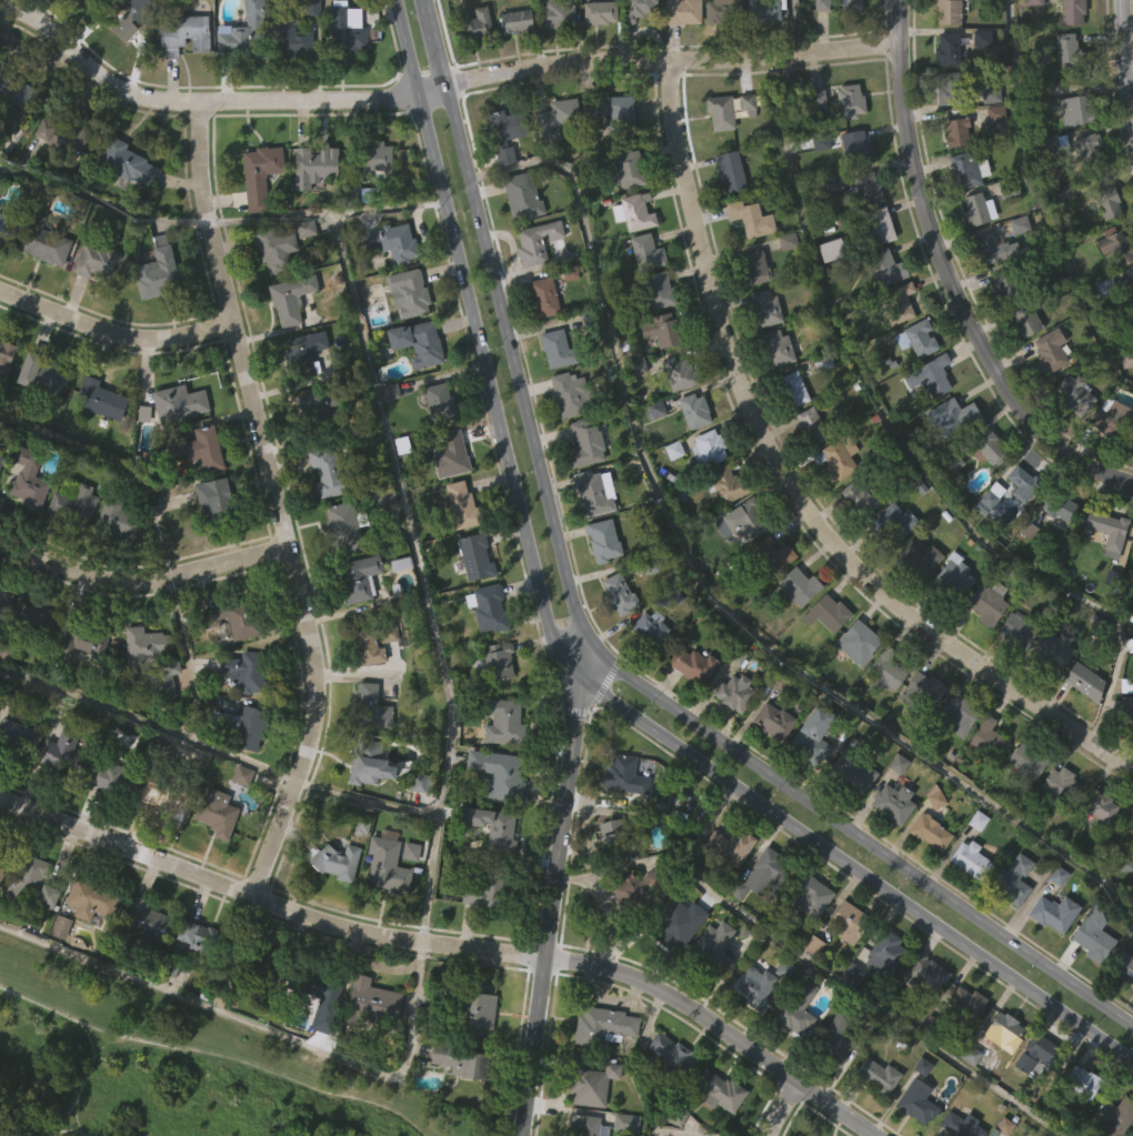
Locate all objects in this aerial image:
building: (851, 6)
building: (309, 9)
building: (638, 9)
building: (763, 9)
building: (17, 11)
building: (681, 11)
building: (721, 11)
building: (1072, 11)
building: (598, 12)
building: (946, 12)
building: (555, 14)
building: (133, 17)
building: (76, 18)
building: (513, 21)
building: (475, 23)
building: (347, 30)
building: (284, 31)
building: (182, 34)
building: (241, 36)
building: (845, 37)
road: (431, 40)
building: (1031, 42)
building: (310, 46)
road: (403, 47)
building: (820, 47)
building: (763, 48)
building: (638, 50)
building: (946, 50)
building: (1069, 52)
building: (133, 53)
building: (718, 54)
building: (680, 56)
road: (1123, 56)
building: (555, 57)
building: (598, 57)
road: (672, 60)
building: (513, 66)
building: (475, 68)
road: (1129, 77)
building: (342, 78)
building: (979, 82)
building: (234, 84)
building: (290, 86)
road: (430, 88)
building: (947, 88)
building: (14, 90)
building: (1064, 93)
building: (849, 99)
road: (192, 100)
building: (725, 109)
building: (1075, 110)
building: (608, 114)
building: (995, 117)
building: (555, 120)
building: (504, 132)
building: (955, 133)
building: (64, 134)
building: (16, 138)
building: (985, 139)
building: (1053, 142)
building: (814, 143)
building: (745, 147)
building: (854, 147)
building: (1089, 151)
building: (1075, 154)
building: (614, 155)
building: (718, 157)
building: (992, 158)
building: (370, 159)
building: (320, 161)
building: (122, 163)
building: (554, 163)
building: (628, 170)
building: (966, 170)
building: (729, 172)
building: (259, 173)
building: (56, 180)
building: (504, 180)
building: (866, 187)
building: (1085, 189)
building: (853, 192)
building: (355, 193)
road: (99, 194)
building: (520, 197)
building: (371, 203)
road: (1043, 203)
building: (1106, 203)
building: (126, 208)
road: (323, 208)
building: (977, 209)
building: (311, 211)
building: (632, 213)
building: (726, 215)
building: (258, 219)
building: (750, 219)
building: (3, 220)
building: (874, 225)
building: (824, 228)
building: (1062, 238)
building: (520, 240)
building: (39, 241)
building: (538, 241)
building: (391, 242)
building: (1115, 245)
building: (271, 247)
building: (834, 249)
building: (987, 249)
building: (644, 252)
building: (632, 257)
building: (98, 264)
building: (1, 265)
building: (883, 265)
building: (753, 267)
building: (1016, 269)
building: (154, 271)
building: (303, 273)
building: (1132, 277)
road: (950, 278)
building: (39, 284)
building: (785, 285)
building: (1004, 288)
building: (656, 289)
building: (1113, 289)
building: (405, 292)
building: (986, 292)
building: (829, 293)
building: (288, 296)
building: (542, 296)
building: (644, 296)
building: (894, 303)
building: (99, 304)
building: (764, 306)
building: (156, 314)
building: (374, 318)
building: (1023, 319)
building: (1131, 323)
building: (1003, 326)
building: (662, 329)
road: (113, 331)
building: (1103, 331)
building: (918, 336)
building: (414, 340)
building: (541, 341)
building: (287, 343)
building: (776, 346)
building: (895, 348)
building: (555, 349)
building: (1049, 350)
building: (764, 352)
building: (301, 353)
building: (4, 355)
building: (816, 363)
building: (1022, 363)
road: (513, 369)
building: (43, 374)
building: (676, 374)
building: (929, 375)
building: (415, 386)
building: (792, 388)
road: (488, 390)
building: (774, 392)
building: (564, 393)
building: (1073, 393)
building: (1046, 395)
building: (98, 398)
building: (437, 400)
building: (6, 401)
building: (176, 402)
building: (1125, 403)
building: (317, 404)
building: (693, 409)
building: (959, 414)
building: (1111, 416)
building: (676, 418)
building: (41, 419)
building: (925, 422)
building: (812, 424)
building: (791, 433)
building: (388, 435)
building: (566, 439)
road: (899, 439)
building: (1072, 439)
building: (98, 443)
building: (584, 443)
building: (195, 446)
building: (706, 446)
building: (990, 446)
building: (313, 451)
building: (449, 453)
building: (692, 454)
building: (0, 456)
building: (142, 458)
building: (841, 458)
building: (959, 458)
road: (123, 459)
building: (1110, 462)
building: (809, 469)
building: (328, 473)
building: (26, 479)
building: (1022, 483)
building: (724, 484)
road: (793, 484)
building: (593, 491)
building: (705, 492)
building: (989, 492)
building: (671, 493)
building: (213, 495)
building: (861, 496)
road: (274, 501)
building: (70, 502)
building: (835, 503)
building: (0, 504)
building: (1057, 504)
building: (460, 505)
building: (950, 506)
building: (324, 514)
building: (116, 515)
building: (745, 517)
building: (893, 521)
building: (26, 523)
building: (342, 526)
building: (724, 526)
building: (1019, 527)
building: (1107, 531)
building: (600, 534)
building: (858, 540)
building: (986, 542)
building: (212, 543)
building: (459, 546)
building: (71, 550)
building: (1056, 551)
building: (771, 554)
building: (473, 555)
building: (919, 559)
building: (116, 563)
building: (743, 565)
building: (342, 571)
road: (419, 571)
building: (1024, 575)
building: (1104, 576)
building: (357, 577)
building: (951, 579)
road: (140, 580)
building: (601, 584)
building: (798, 585)
road: (705, 586)
building: (618, 593)
building: (771, 599)
building: (4, 600)
building: (918, 602)
building: (987, 602)
building: (485, 607)
building: (826, 612)
building: (231, 617)
building: (952, 620)
building: (36, 621)
building: (357, 621)
building: (1015, 627)
building: (650, 630)
building: (796, 630)
building: (616, 636)
building: (80, 639)
building: (371, 642)
building: (856, 642)
building: (142, 643)
building: (3, 645)
building: (984, 649)
building: (1050, 649)
building: (823, 657)
building: (499, 660)
building: (34, 662)
building: (692, 664)
road: (590, 666)
building: (884, 670)
building: (241, 671)
building: (649, 673)
building: (1015, 674)
building: (1084, 681)
building: (855, 685)
building: (81, 687)
building: (161, 687)
building: (922, 691)
building: (732, 694)
building: (1051, 694)
building: (1126, 706)
building: (369, 707)
building: (690, 708)
building: (960, 713)
building: (883, 715)
building: (772, 721)
building: (501, 722)
building: (239, 724)
building: (1082, 725)
road: (166, 727)
building: (921, 734)
building: (732, 735)
building: (811, 735)
building: (17, 737)
building: (987, 738)
building: (1125, 751)
building: (62, 752)
road: (238, 755)
building: (955, 757)
building: (1026, 760)
building: (364, 763)
building: (770, 765)
building: (851, 768)
building: (500, 772)
building: (622, 775)
building: (111, 778)
building: (18, 780)
building: (421, 782)
building: (985, 782)
building: (1060, 784)
road: (365, 797)
building: (61, 800)
building: (160, 800)
building: (892, 802)
building: (1023, 804)
building: (1099, 806)
building: (368, 808)
building: (850, 810)
building: (213, 813)
building: (240, 820)
building: (621, 820)
building: (109, 823)
building: (1130, 823)
building: (492, 826)
building: (1055, 827)
building: (929, 832)
building: (612, 841)
building: (162, 844)
road: (863, 844)
building: (729, 845)
building: (891, 846)
building: (1097, 851)
building: (215, 857)
building: (331, 859)
building: (970, 859)
building: (390, 866)
building: (1129, 867)
building: (769, 869)
building: (490, 871)
road: (855, 873)
building: (928, 875)
building: (1012, 879)
building: (29, 881)
building: (482, 887)
building: (634, 887)
building: (728, 888)
building: (810, 894)
building: (409, 895)
building: (89, 899)
building: (969, 903)
building: (335, 905)
road: (552, 907)
building: (385, 909)
building: (0, 912)
building: (1053, 912)
building: (763, 914)
building: (848, 922)
building: (26, 923)
building: (1011, 923)
building: (676, 924)
building: (140, 926)
building: (629, 931)
building: (1093, 934)
building: (478, 938)
building: (809, 938)
building: (46, 939)
building: (198, 939)
building: (89, 944)
road: (450, 944)
building: (711, 951)
building: (885, 952)
building: (1052, 956)
building: (1124, 964)
building: (846, 965)
building: (143, 967)
building: (676, 971)
building: (58, 972)
building: (925, 972)
building: (302, 975)
road: (835, 976)
building: (1091, 979)
building: (195, 981)
building: (752, 985)
building: (713, 987)
building: (327, 994)
building: (883, 995)
building: (964, 1002)
building: (370, 1003)
building: (793, 1012)
building: (1122, 1012)
building: (472, 1013)
building: (849, 1015)
building: (924, 1016)
building: (602, 1025)
road: (262, 1026)
building: (751, 1028)
building: (320, 1029)
building: (1005, 1032)
building: (834, 1037)
road: (88, 1038)
building: (370, 1044)
building: (964, 1045)
building: (1032, 1053)
building: (795, 1054)
building: (458, 1058)
building: (669, 1058)
park: (160, 1070)
building: (1004, 1075)
road: (283, 1076)
building: (875, 1076)
building: (833, 1082)
building: (1081, 1082)
building: (590, 1084)
road: (36, 1085)
building: (715, 1090)
building: (1034, 1095)
building: (668, 1096)
building: (967, 1098)
building: (915, 1102)
building: (459, 1105)
road: (782, 1109)
building: (1115, 1115)
building: (875, 1119)
building: (624, 1122)
building: (1080, 1124)
building: (582, 1125)
road: (69, 1126)
building: (959, 1126)
building: (713, 1127)
road: (685, 1129)
building: (914, 1129)

